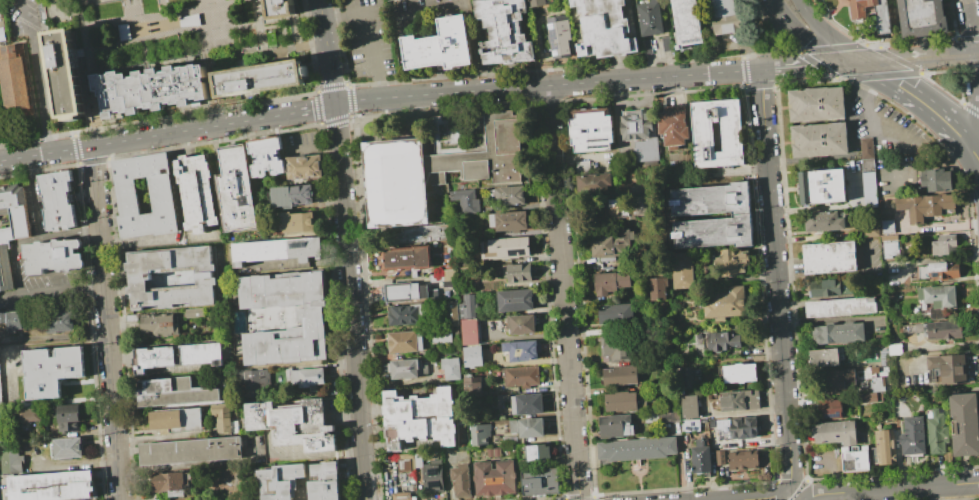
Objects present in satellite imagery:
road: (85, 0)
road: (214, 3)
building: (534, 3)
road: (127, 7)
road: (162, 7)
building: (724, 8)
road: (76, 9)
building: (282, 9)
road: (188, 11)
road: (256, 12)
building: (871, 13)
road: (216, 16)
road: (469, 16)
building: (650, 18)
building: (923, 18)
road: (265, 19)
road: (116, 20)
building: (189, 20)
road: (58, 21)
road: (139, 22)
building: (688, 23)
building: (728, 27)
building: (605, 28)
road: (184, 29)
building: (123, 31)
building: (504, 31)
road: (370, 33)
road: (827, 33)
building: (1, 34)
road: (771, 34)
road: (972, 34)
building: (561, 36)
road: (260, 38)
road: (154, 39)
road: (297, 39)
road: (809, 41)
road: (182, 42)
road: (310, 45)
building: (440, 46)
road: (144, 50)
road: (278, 50)
road: (264, 51)
road: (328, 51)
road: (235, 55)
road: (919, 57)
parking lot: (34, 58)
road: (187, 59)
road: (237, 60)
traffic signals: (860, 62)
road: (89, 63)
road: (146, 66)
building: (69, 67)
road: (209, 68)
building: (266, 74)
road: (36, 75)
road: (597, 81)
building: (14, 87)
building: (153, 87)
road: (325, 88)
road: (85, 90)
road: (917, 97)
road: (316, 100)
traffic signals: (336, 104)
building: (816, 104)
road: (314, 109)
road: (208, 110)
building: (674, 128)
road: (880, 128)
road: (85, 130)
building: (591, 130)
road: (973, 131)
building: (717, 133)
road: (73, 134)
building: (641, 134)
road: (146, 137)
building: (819, 140)
road: (75, 142)
road: (973, 151)
road: (953, 152)
building: (267, 157)
building: (868, 160)
road: (907, 165)
building: (304, 167)
building: (436, 172)
building: (591, 175)
building: (936, 180)
building: (823, 187)
building: (237, 188)
building: (197, 193)
building: (510, 195)
building: (163, 196)
building: (293, 196)
building: (466, 200)
building: (58, 201)
building: (926, 206)
building: (616, 208)
building: (687, 214)
building: (509, 221)
building: (824, 221)
building: (295, 222)
building: (889, 226)
building: (11, 228)
building: (424, 234)
road: (139, 243)
building: (945, 245)
building: (610, 247)
building: (505, 248)
building: (892, 248)
building: (277, 251)
building: (53, 256)
building: (407, 258)
building: (829, 258)
building: (707, 266)
road: (14, 269)
building: (936, 272)
building: (516, 273)
building: (443, 275)
building: (171, 277)
road: (776, 278)
building: (611, 283)
building: (826, 287)
building: (658, 289)
building: (405, 291)
road: (563, 292)
building: (939, 297)
building: (515, 300)
road: (351, 302)
building: (724, 303)
building: (841, 307)
building: (194, 313)
building: (409, 314)
building: (616, 314)
building: (464, 317)
building: (286, 319)
building: (14, 321)
building: (59, 321)
road: (106, 323)
building: (160, 324)
building: (522, 324)
building: (938, 330)
building: (838, 333)
building: (442, 335)
building: (723, 340)
building: (406, 342)
building: (896, 349)
building: (522, 350)
building: (451, 351)
building: (617, 352)
building: (176, 355)
building: (473, 356)
building: (828, 357)
building: (884, 357)
building: (451, 368)
building: (950, 368)
building: (407, 369)
building: (52, 370)
building: (740, 373)
building: (522, 376)
building: (620, 376)
building: (307, 377)
building: (688, 377)
building: (836, 380)
building: (255, 383)
building: (477, 386)
building: (0, 387)
building: (874, 391)
building: (174, 392)
building: (503, 400)
building: (621, 401)
building: (742, 401)
building: (527, 404)
building: (689, 406)
building: (830, 408)
building: (30, 416)
building: (652, 416)
building: (68, 418)
building: (224, 419)
building: (177, 420)
building: (421, 420)
building: (1, 423)
building: (294, 424)
building: (964, 424)
building: (690, 425)
building: (615, 426)
building: (745, 427)
building: (526, 428)
building: (835, 432)
building: (937, 432)
building: (481, 435)
building: (913, 437)
building: (497, 438)
building: (68, 448)
building: (884, 448)
building: (636, 449)
building: (191, 451)
building: (494, 453)
building: (539, 453)
building: (701, 457)
building: (720, 458)
building: (744, 460)
building: (12, 461)
building: (855, 461)
building: (404, 465)
building: (406, 477)
building: (495, 477)
building: (434, 479)
building: (462, 479)
building: (301, 482)
building: (541, 482)
building: (174, 483)
building: (51, 486)
road: (892, 490)
building: (399, 492)
road: (792, 493)
road: (769, 498)

